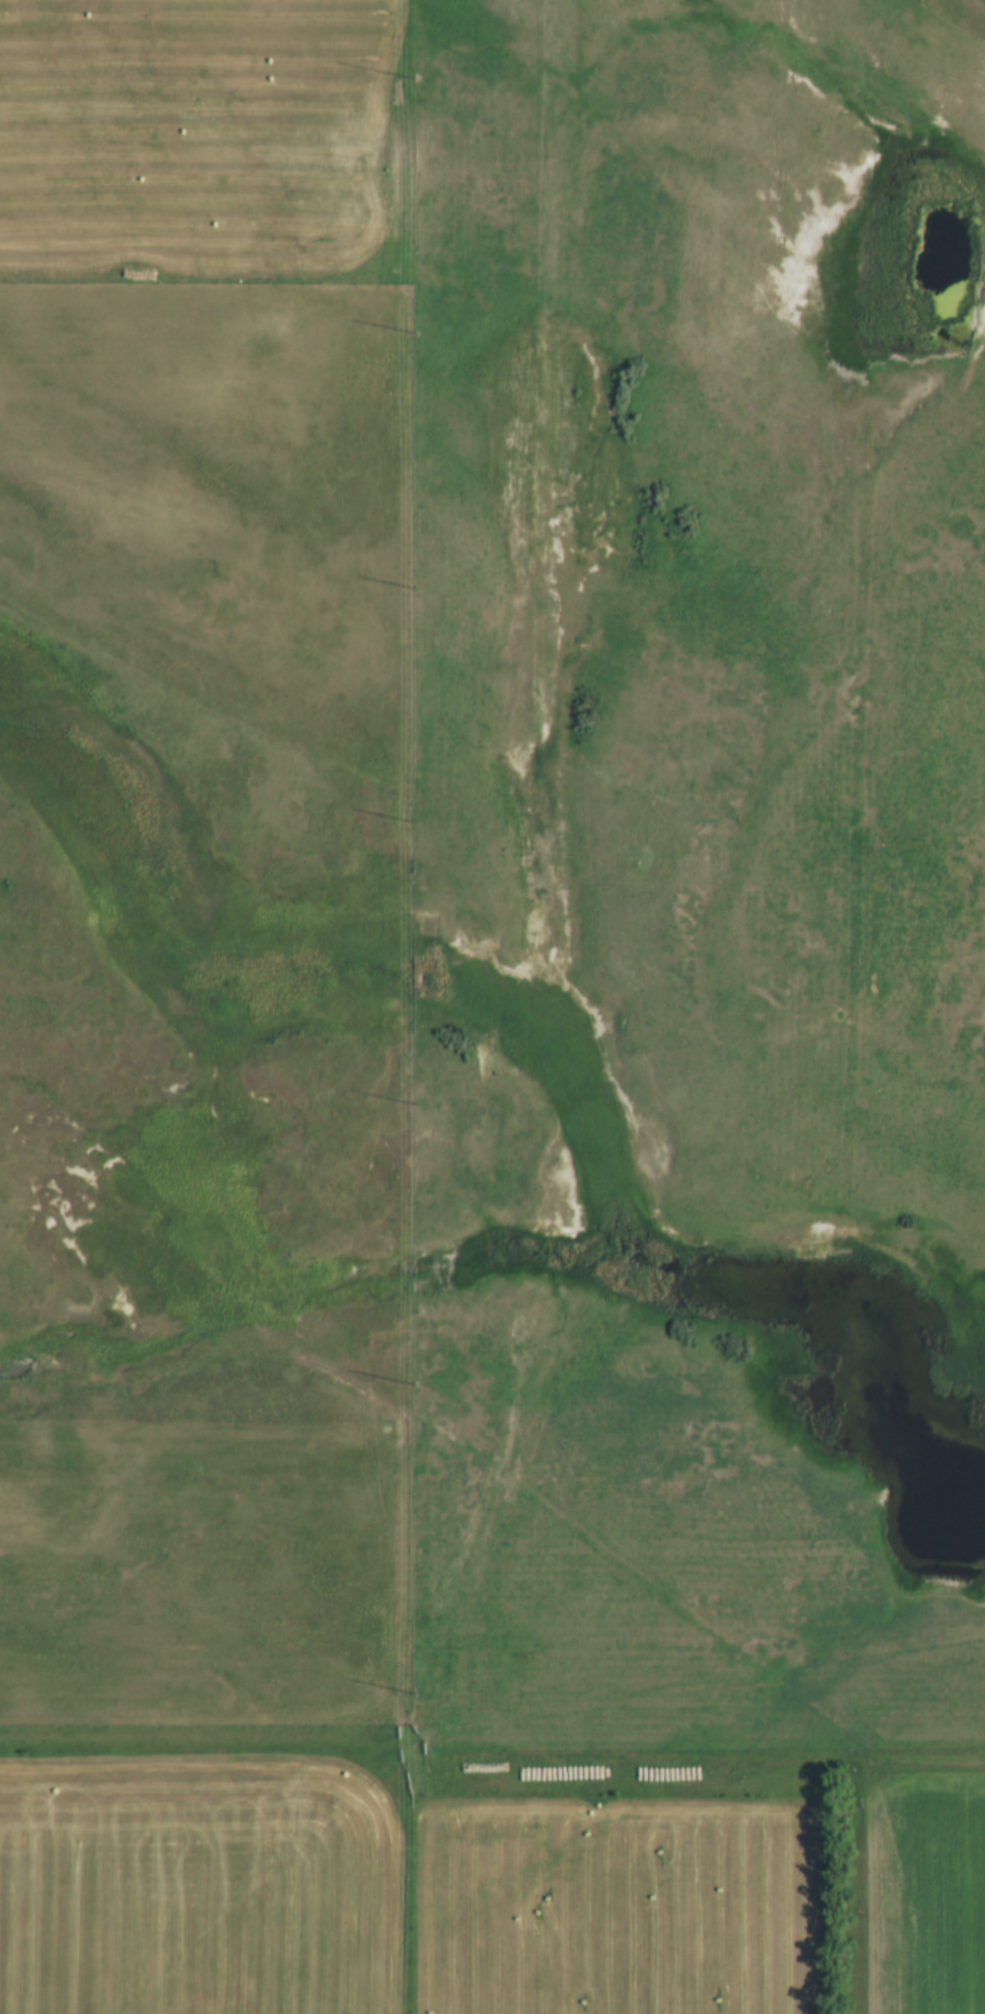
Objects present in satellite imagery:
road: (403, 1654)

